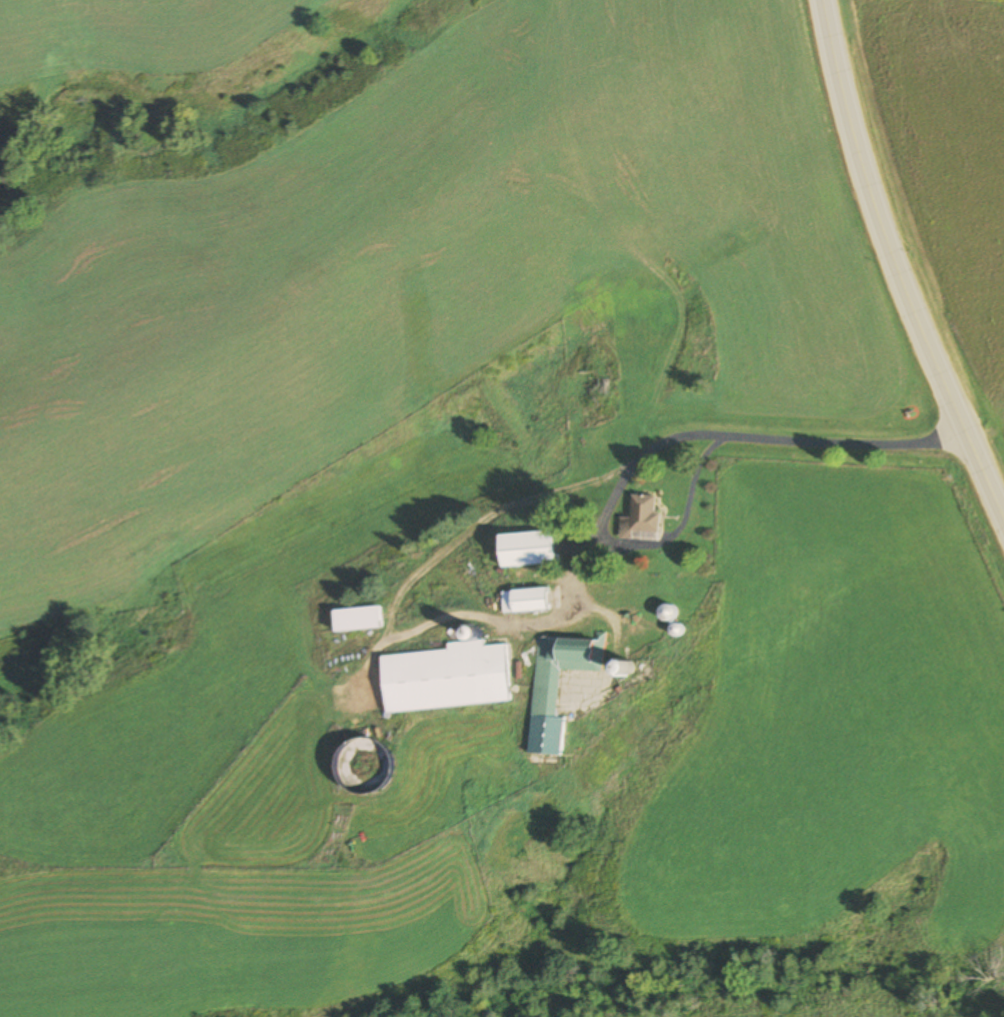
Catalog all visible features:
road: (901, 264)
road: (751, 436)
building: (640, 519)
building: (527, 549)
building: (524, 601)
building: (667, 613)
building: (356, 619)
building: (446, 675)
building: (558, 686)
building: (361, 767)

